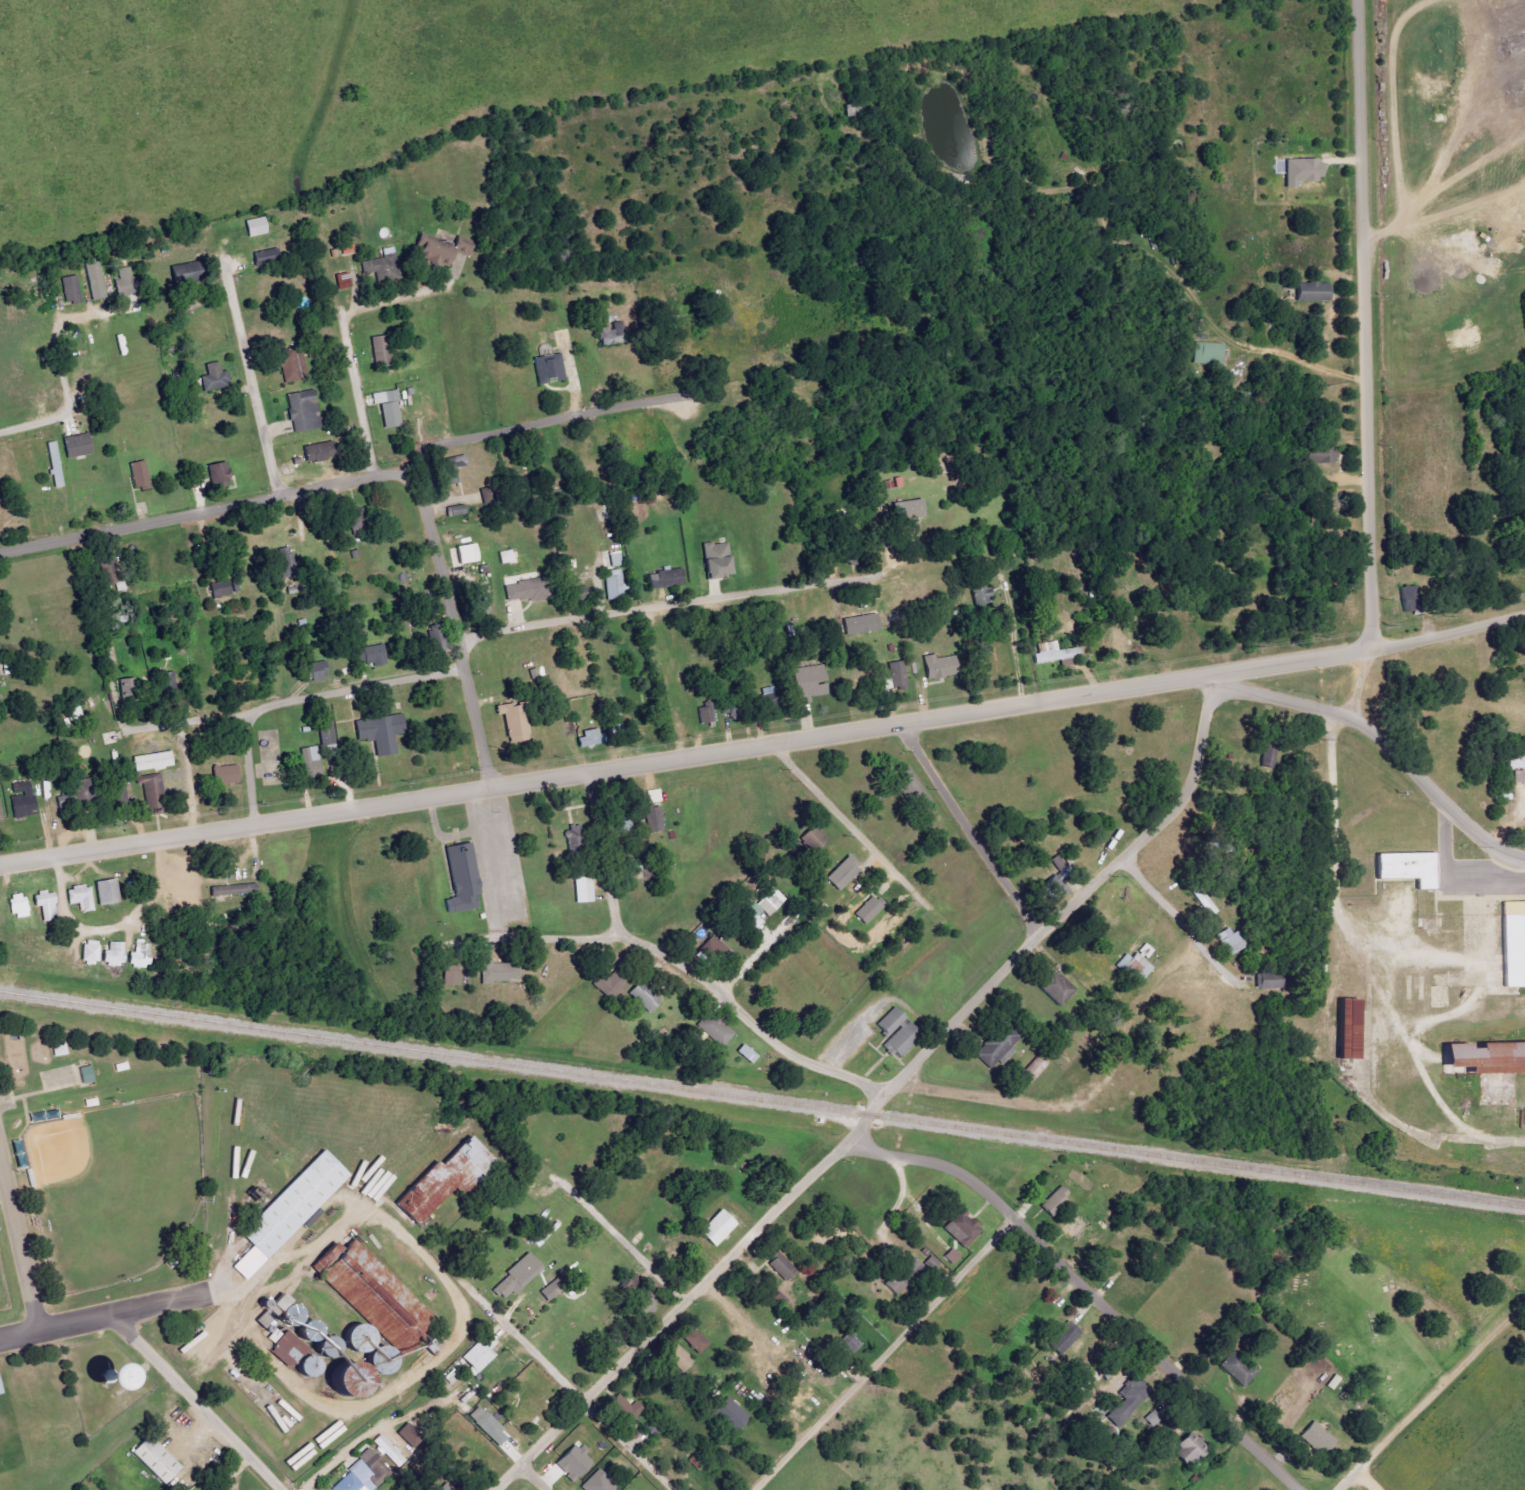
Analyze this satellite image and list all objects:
building: (1301, 171)
building: (255, 227)
building: (440, 249)
building: (265, 256)
building: (382, 267)
building: (182, 273)
building: (94, 280)
building: (343, 281)
building: (122, 283)
building: (70, 290)
building: (1311, 292)
road: (1366, 321)
building: (607, 336)
road: (350, 347)
building: (380, 351)
building: (1207, 356)
building: (293, 365)
road: (1307, 368)
building: (548, 369)
building: (214, 378)
road: (249, 379)
road: (71, 390)
building: (303, 411)
building: (387, 411)
road: (537, 424)
building: (77, 446)
building: (1320, 455)
building: (318, 456)
building: (54, 465)
building: (451, 469)
building: (139, 475)
building: (217, 479)
building: (908, 510)
road: (188, 514)
building: (467, 554)
building: (615, 559)
building: (714, 565)
building: (664, 582)
building: (614, 584)
building: (221, 589)
building: (525, 591)
building: (980, 593)
building: (1407, 599)
building: (481, 601)
road: (662, 604)
road: (452, 615)
road: (1448, 630)
building: (437, 642)
building: (1119, 643)
building: (1053, 655)
building: (371, 656)
road: (1288, 660)
building: (939, 667)
building: (316, 670)
building: (898, 675)
building: (169, 682)
building: (809, 683)
building: (124, 686)
road: (302, 698)
building: (765, 702)
building: (706, 714)
building: (512, 721)
building: (326, 727)
building: (380, 733)
building: (587, 740)
road: (721, 746)
road: (182, 747)
building: (1268, 757)
building: (152, 761)
building: (1516, 761)
building: (309, 762)
building: (225, 776)
building: (1519, 777)
building: (911, 789)
building: (81, 790)
building: (118, 793)
building: (153, 794)
building: (23, 801)
road: (1331, 805)
building: (1, 812)
building: (653, 812)
road: (848, 823)
road: (1467, 823)
road: (966, 828)
road: (461, 835)
building: (574, 835)
building: (813, 839)
building: (1410, 868)
building: (843, 873)
building: (461, 879)
road: (490, 885)
building: (1053, 888)
building: (232, 890)
building: (583, 890)
building: (105, 892)
road: (1080, 894)
building: (81, 898)
building: (771, 901)
building: (43, 908)
building: (17, 909)
building: (868, 911)
road: (1181, 916)
building: (753, 917)
road: (115, 928)
building: (1511, 934)
road: (551, 939)
building: (1230, 942)
building: (711, 950)
building: (91, 953)
building: (113, 955)
building: (139, 956)
building: (1136, 965)
road: (687, 966)
building: (500, 972)
building: (450, 975)
building: (1268, 981)
building: (608, 985)
building: (1054, 987)
building: (643, 997)
building: (1351, 1029)
building: (714, 1030)
building: (896, 1031)
building: (998, 1046)
building: (60, 1049)
building: (746, 1055)
building: (1486, 1057)
building: (123, 1066)
building: (1034, 1070)
building: (87, 1074)
park: (59, 1077)
road: (77, 1077)
road: (43, 1083)
road: (46, 1091)
parking lot: (7, 1100)
railway: (762, 1100)
building: (92, 1102)
road: (45, 1114)
building: (72, 1116)
building: (37, 1119)
road: (20, 1139)
building: (24, 1159)
park: (106, 1161)
building: (234, 1163)
building: (246, 1164)
building: (448, 1176)
building: (355, 1177)
building: (31, 1178)
park: (115, 1189)
building: (1054, 1200)
road: (780, 1201)
building: (290, 1211)
building: (717, 1228)
building: (962, 1228)
road: (20, 1241)
road: (624, 1242)
building: (952, 1256)
road: (278, 1258)
building: (932, 1263)
building: (781, 1266)
building: (903, 1275)
building: (517, 1276)
road: (289, 1278)
road: (1082, 1285)
road: (228, 1293)
building: (380, 1298)
building: (779, 1300)
road: (165, 1303)
building: (268, 1303)
building: (645, 1307)
building: (295, 1315)
building: (275, 1317)
park: (1354, 1318)
road: (77, 1320)
building: (314, 1331)
road: (20, 1333)
building: (362, 1338)
building: (1063, 1338)
building: (695, 1341)
building: (332, 1346)
building: (846, 1347)
building: (290, 1349)
road: (880, 1353)
building: (480, 1356)
building: (680, 1358)
building: (386, 1360)
building: (312, 1366)
building: (1237, 1370)
road: (423, 1371)
water tower: (95, 1373)
building: (84, 1377)
building: (357, 1379)
building: (0, 1387)
road: (1430, 1396)
road: (583, 1400)
road: (198, 1401)
building: (1128, 1401)
building: (625, 1408)
building: (731, 1414)
building: (488, 1425)
building: (407, 1434)
building: (329, 1435)
building: (1317, 1438)
building: (1188, 1449)
building: (389, 1451)
road: (348, 1452)
building: (300, 1457)
building: (151, 1459)
building: (573, 1462)
building: (363, 1475)
road: (531, 1479)
road: (1366, 1480)
building: (597, 1483)

